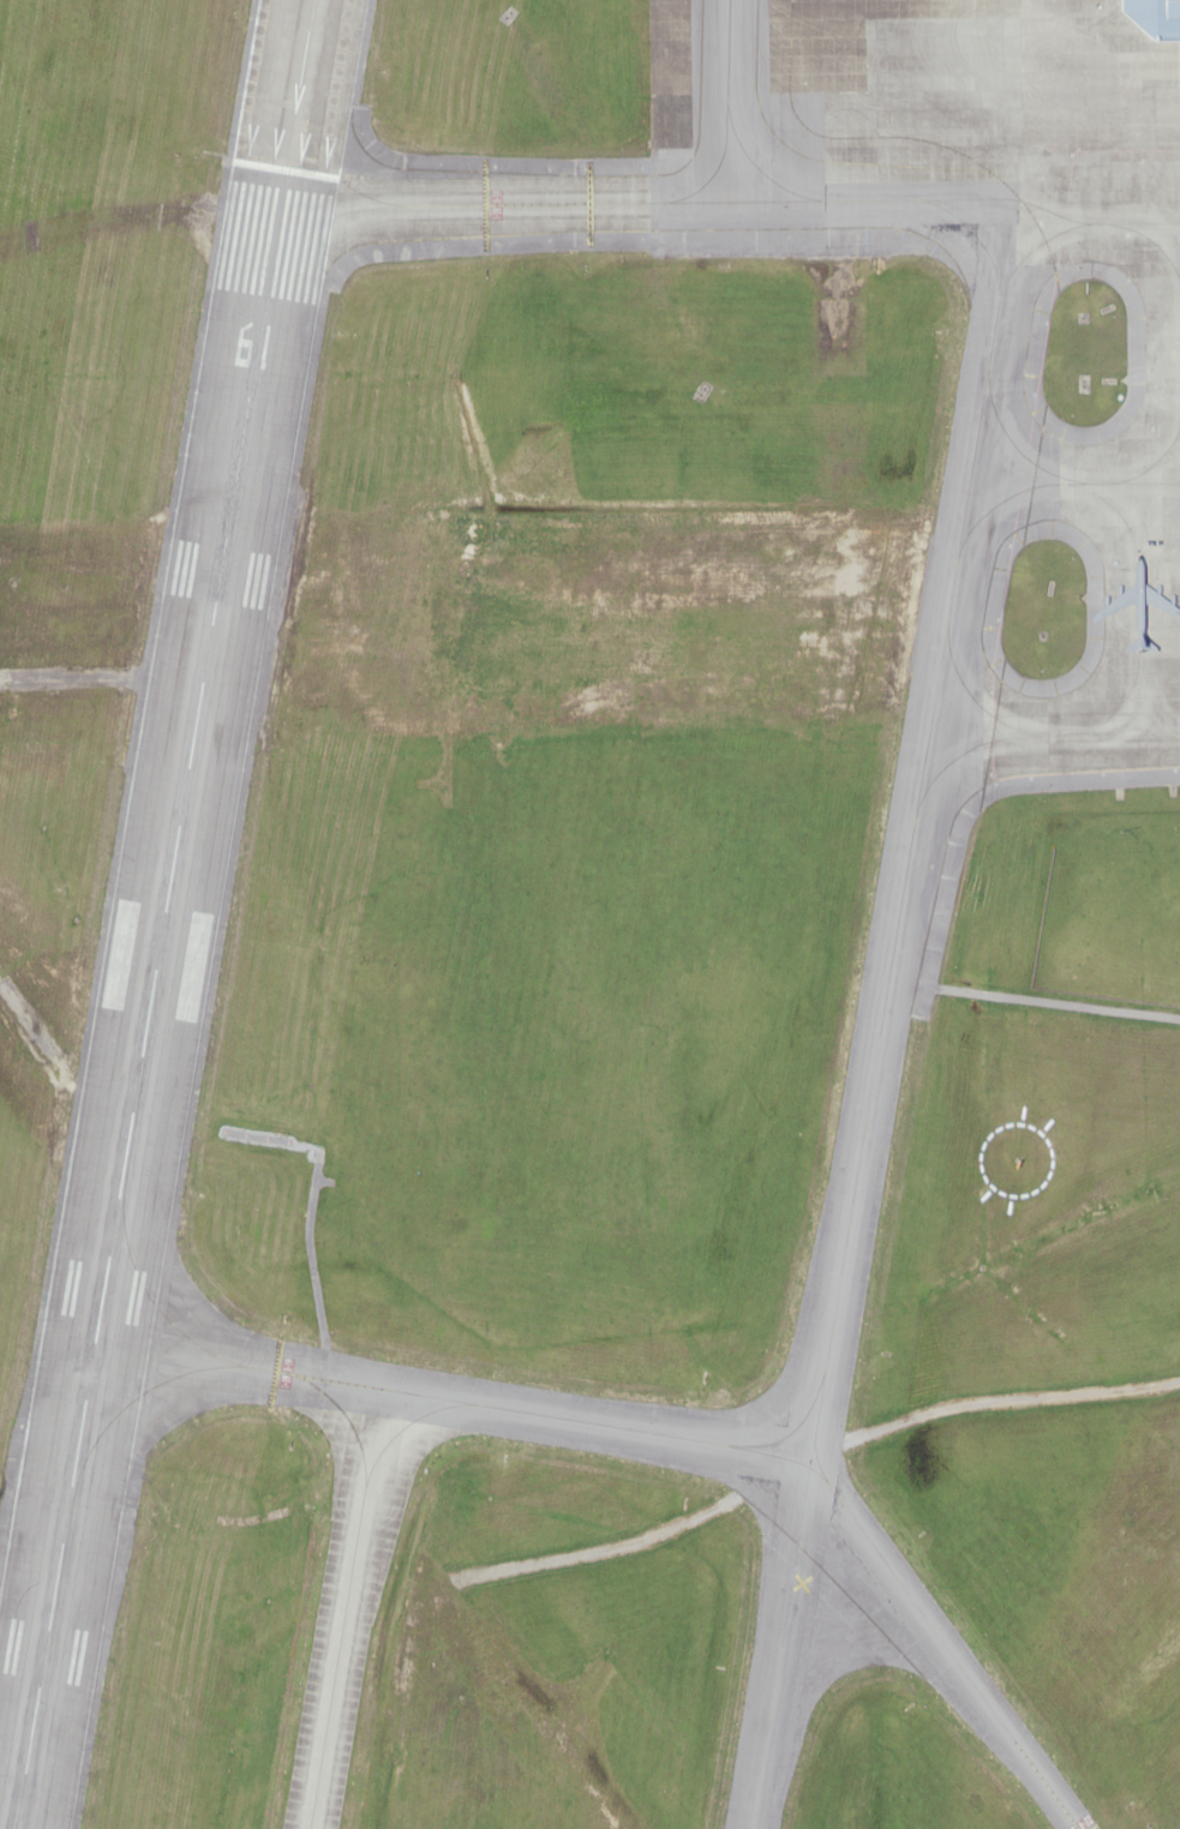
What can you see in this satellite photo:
building: (1128, 17)
building: (963, 26)
airport taxiway: (299, 84)
airport taxiway: (736, 100)
airport taxiway: (508, 203)
airport apron: (1102, 538)
airport taxiway: (930, 727)
airport: (589, 914)
airport runway: (150, 999)
airport taxiway: (671, 1446)
airport taxiway: (345, 1609)

